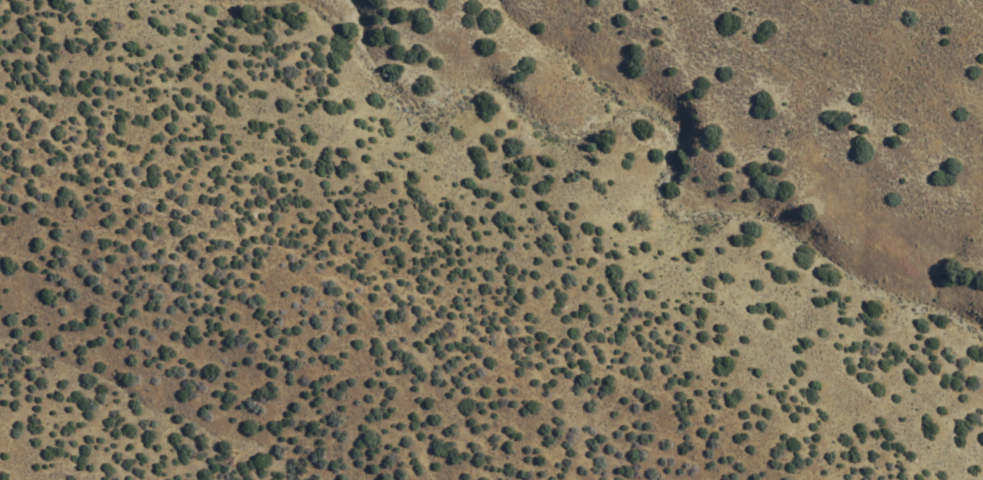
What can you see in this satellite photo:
road: (424, 345)

